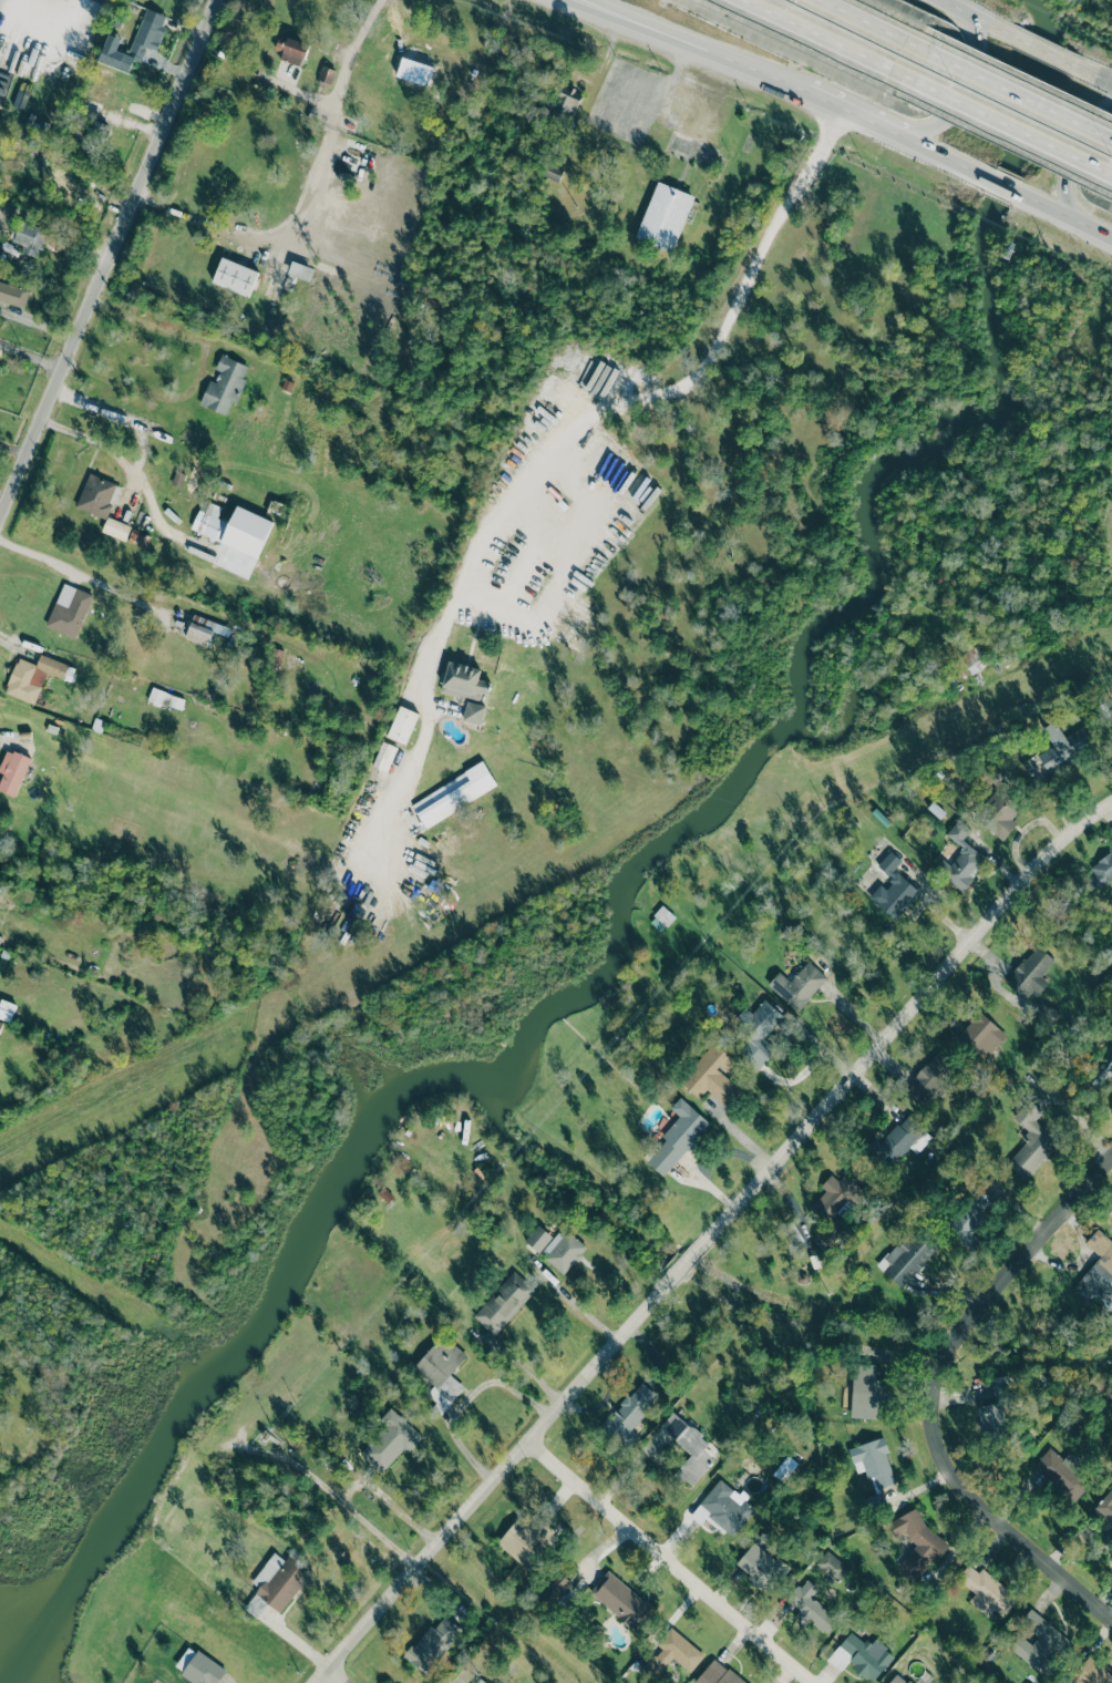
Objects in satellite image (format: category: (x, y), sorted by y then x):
building: (0, 2)
road: (586, 8)
road: (594, 8)
road: (976, 18)
road: (877, 25)
road: (832, 40)
building: (135, 42)
building: (290, 49)
road: (1040, 51)
road: (704, 52)
road: (1089, 74)
building: (325, 76)
road: (964, 84)
road: (1021, 94)
building: (567, 101)
road: (856, 115)
road: (1015, 126)
building: (350, 154)
road: (1071, 158)
road: (949, 161)
building: (552, 172)
road: (1003, 186)
road: (1065, 216)
building: (665, 217)
road: (106, 256)
building: (297, 275)
building: (235, 277)
building: (12, 295)
road: (30, 358)
building: (225, 384)
road: (550, 432)
road: (126, 462)
building: (97, 495)
building: (116, 528)
building: (234, 528)
road: (555, 541)
road: (38, 556)
building: (69, 610)
building: (204, 629)
building: (30, 645)
building: (974, 659)
building: (32, 677)
building: (463, 681)
building: (166, 699)
building: (474, 714)
building: (402, 725)
road: (9, 741)
building: (1063, 746)
building: (384, 756)
building: (12, 772)
building: (454, 794)
building: (999, 810)
building: (122, 827)
building: (1111, 830)
building: (961, 858)
building: (1101, 870)
building: (894, 889)
building: (661, 919)
building: (1031, 974)
building: (797, 985)
building: (7, 1010)
building: (756, 1034)
building: (982, 1035)
building: (1101, 1070)
building: (712, 1076)
building: (930, 1078)
building: (678, 1136)
building: (1031, 1140)
building: (835, 1204)
building: (970, 1218)
road: (706, 1236)
building: (538, 1239)
building: (563, 1250)
building: (907, 1256)
building: (1096, 1270)
building: (504, 1302)
building: (442, 1372)
building: (866, 1392)
road: (927, 1397)
road: (464, 1398)
building: (997, 1408)
building: (630, 1412)
building: (390, 1440)
building: (688, 1448)
building: (873, 1461)
building: (1063, 1472)
building: (1105, 1507)
building: (723, 1509)
road: (373, 1531)
building: (526, 1539)
building: (917, 1539)
road: (662, 1563)
building: (831, 1566)
building: (762, 1567)
building: (280, 1580)
building: (556, 1585)
building: (986, 1591)
building: (621, 1601)
building: (811, 1608)
building: (1041, 1644)
building: (430, 1645)
building: (676, 1652)
building: (866, 1655)
building: (202, 1670)
building: (1091, 1673)
building: (718, 1674)
road: (331, 1676)
building: (899, 1679)
building: (483, 1680)
building: (497, 1682)

